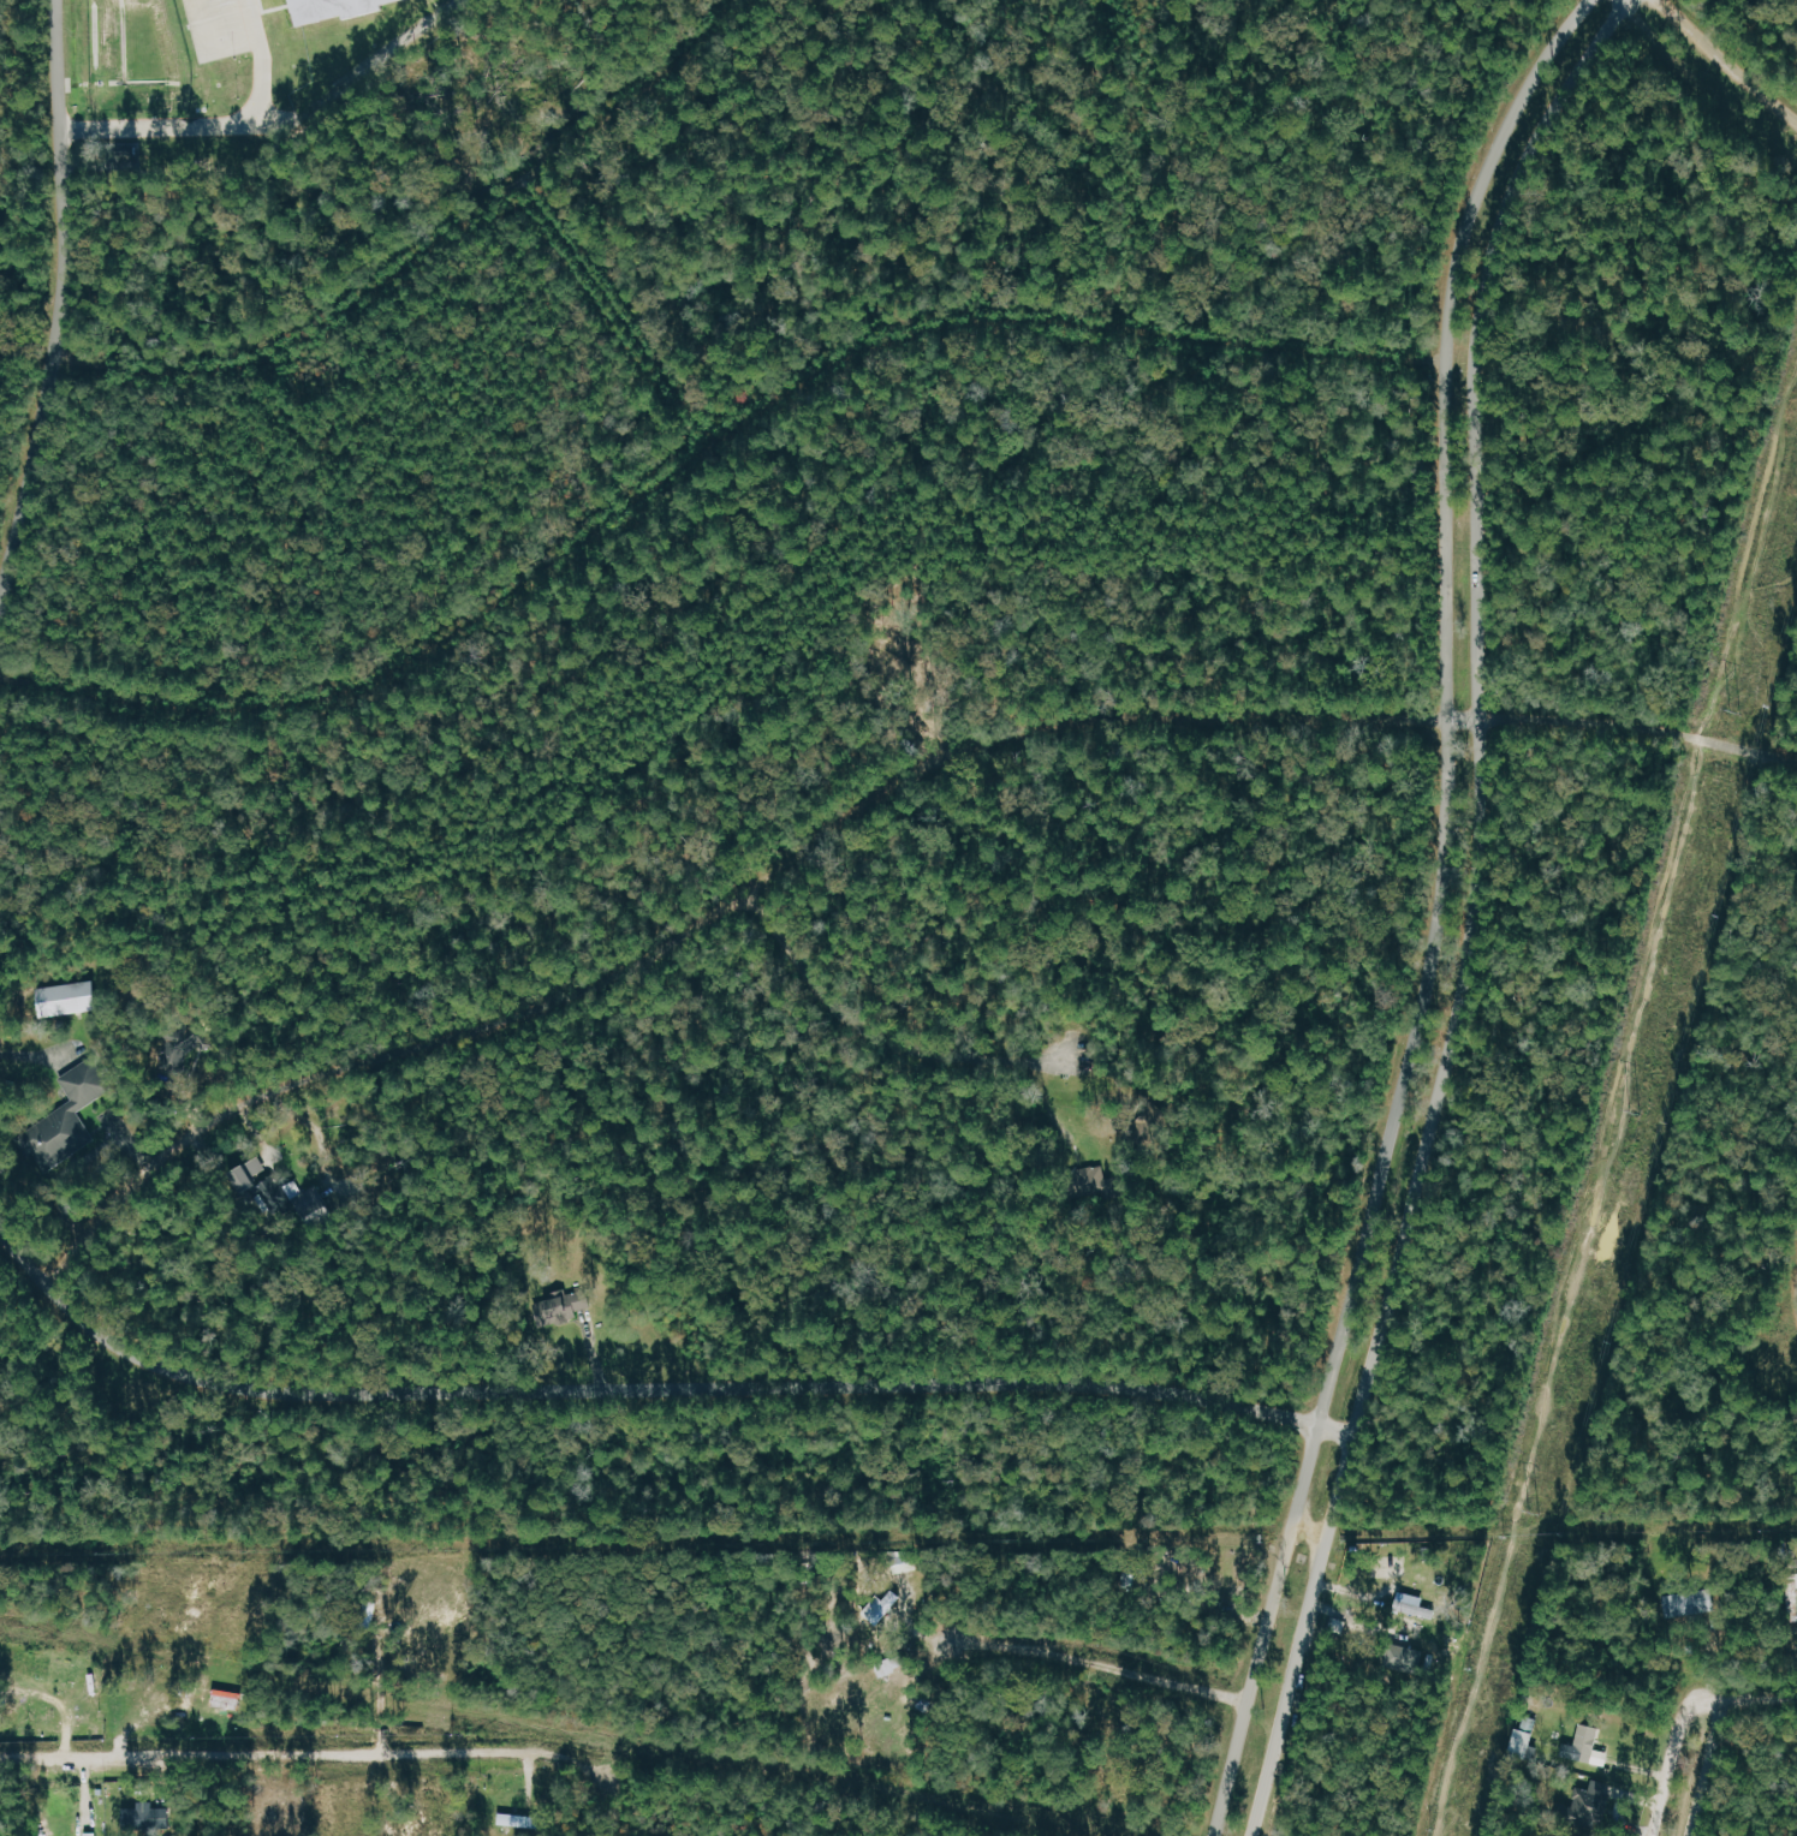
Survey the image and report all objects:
building: (333, 10)
road: (251, 22)
road: (204, 52)
road: (1728, 61)
road: (363, 76)
road: (196, 131)
road: (1129, 163)
road: (418, 257)
road: (53, 308)
road: (617, 312)
road: (701, 452)
power tower: (1732, 714)
road: (857, 804)
road: (1472, 911)
road: (1434, 912)
building: (66, 996)
road: (874, 1036)
building: (183, 1044)
power tower: (1631, 1114)
building: (63, 1115)
building: (1143, 1123)
road: (72, 1156)
building: (244, 1174)
building: (1088, 1181)
building: (273, 1192)
building: (307, 1199)
building: (555, 1306)
road: (654, 1389)
power tower: (1535, 1513)
building: (903, 1563)
building: (1415, 1605)
building: (880, 1606)
building: (1410, 1661)
road: (1097, 1664)
road: (1745, 1697)
building: (227, 1699)
building: (1524, 1740)
building: (1584, 1745)
road: (307, 1755)
road: (1668, 1765)
road: (1707, 1766)
building: (148, 1817)
building: (91, 1834)

